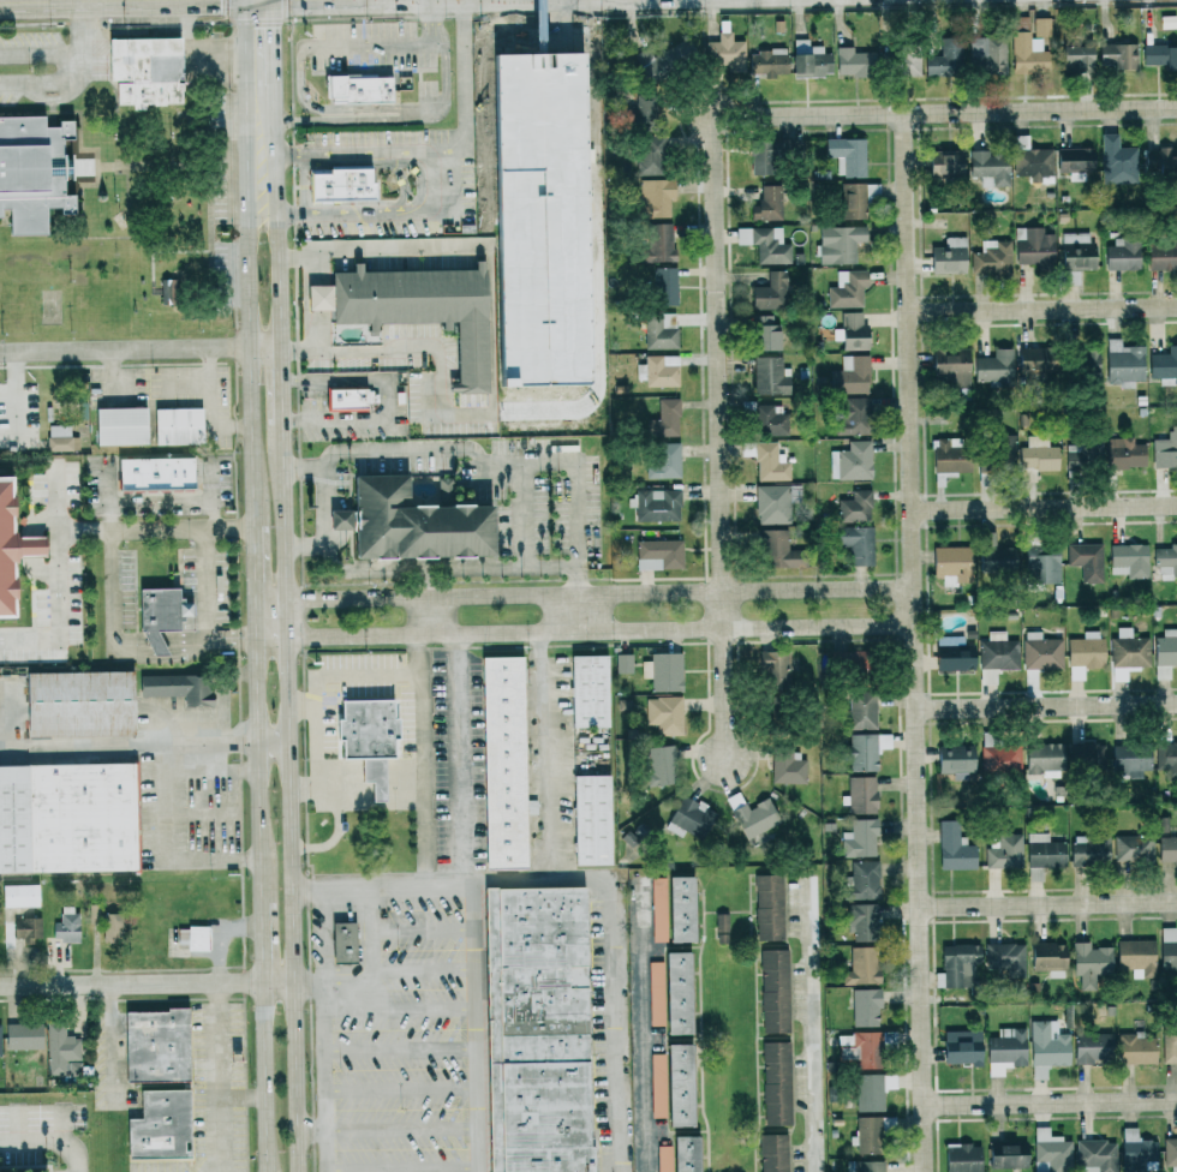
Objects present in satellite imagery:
road: (48, 0)
road: (429, 20)
building: (1041, 26)
road: (374, 42)
road: (275, 43)
building: (725, 53)
road: (44, 54)
building: (538, 54)
building: (1153, 54)
building: (986, 55)
building: (1118, 55)
building: (1076, 56)
building: (811, 58)
building: (1171, 58)
building: (944, 59)
building: (907, 61)
building: (767, 62)
building: (853, 62)
building: (145, 71)
road: (446, 73)
road: (78, 74)
road: (299, 84)
building: (358, 89)
road: (249, 108)
building: (644, 109)
road: (944, 110)
road: (362, 119)
road: (276, 151)
road: (442, 155)
building: (650, 155)
building: (847, 156)
building: (761, 157)
building: (1074, 160)
building: (1160, 160)
building: (1032, 161)
building: (945, 163)
building: (1118, 165)
building: (990, 167)
building: (31, 172)
road: (303, 184)
building: (339, 184)
building: (656, 197)
building: (767, 203)
road: (363, 215)
building: (661, 243)
building: (766, 244)
building: (840, 244)
building: (1034, 246)
building: (1076, 251)
building: (1163, 253)
building: (1123, 255)
building: (949, 257)
building: (992, 258)
road: (279, 281)
building: (665, 286)
building: (848, 289)
building: (168, 292)
building: (772, 292)
road: (1042, 306)
building: (414, 309)
road: (322, 311)
building: (853, 331)
building: (766, 333)
building: (658, 334)
road: (139, 349)
building: (1034, 360)
building: (1124, 363)
building: (1087, 364)
building: (1164, 364)
building: (994, 367)
building: (949, 369)
road: (252, 371)
building: (659, 371)
building: (770, 376)
building: (850, 376)
road: (281, 385)
building: (345, 399)
building: (852, 415)
building: (764, 418)
building: (664, 419)
building: (119, 426)
building: (177, 426)
road: (717, 436)
building: (60, 438)
building: (747, 449)
building: (1004, 449)
building: (1165, 450)
building: (1083, 453)
building: (1116, 453)
building: (1038, 454)
building: (950, 458)
road: (488, 460)
building: (664, 460)
building: (852, 461)
building: (770, 464)
building: (154, 474)
building: (656, 504)
building: (772, 504)
building: (855, 507)
road: (1044, 507)
road: (283, 510)
road: (324, 521)
building: (411, 524)
road: (129, 531)
road: (521, 539)
building: (856, 544)
building: (29, 546)
building: (776, 550)
building: (4, 552)
building: (659, 554)
building: (996, 556)
building: (1166, 557)
building: (1040, 561)
building: (1087, 561)
building: (1129, 561)
building: (950, 562)
road: (413, 572)
road: (257, 582)
road: (208, 584)
road: (419, 584)
road: (62, 588)
road: (665, 591)
road: (352, 597)
road: (271, 598)
road: (420, 615)
building: (159, 617)
road: (286, 617)
road: (667, 629)
road: (354, 635)
road: (273, 636)
road: (233, 638)
road: (160, 640)
road: (913, 641)
building: (1085, 650)
building: (1129, 650)
building: (1041, 653)
building: (1165, 653)
building: (954, 654)
building: (997, 656)
building: (850, 662)
building: (623, 663)
building: (773, 666)
building: (664, 671)
road: (357, 681)
building: (178, 687)
building: (588, 690)
building: (78, 702)
road: (1045, 706)
building: (861, 708)
building: (665, 714)
building: (366, 737)
road: (275, 741)
road: (130, 742)
road: (542, 749)
building: (866, 749)
road: (316, 752)
building: (1166, 755)
building: (1086, 757)
road: (424, 758)
building: (1000, 759)
building: (1044, 759)
building: (1130, 759)
building: (955, 760)
building: (507, 763)
building: (659, 765)
building: (788, 766)
road: (261, 770)
building: (861, 794)
building: (67, 817)
building: (691, 818)
building: (591, 819)
road: (339, 833)
building: (860, 838)
road: (166, 848)
building: (954, 848)
building: (1134, 849)
building: (1167, 849)
building: (1089, 850)
building: (1003, 851)
building: (1042, 854)
building: (861, 880)
road: (307, 891)
building: (20, 895)
road: (293, 903)
road: (470, 903)
road: (1047, 903)
building: (769, 907)
building: (673, 908)
building: (862, 921)
building: (66, 925)
building: (110, 927)
building: (722, 927)
building: (26, 928)
road: (374, 931)
building: (191, 937)
road: (323, 938)
road: (265, 941)
building: (342, 941)
building: (1167, 947)
road: (615, 953)
building: (1136, 955)
building: (1005, 958)
building: (1047, 958)
building: (1091, 962)
building: (956, 963)
building: (862, 965)
road: (398, 974)
road: (281, 981)
road: (310, 981)
road: (132, 982)
building: (775, 991)
building: (677, 992)
building: (655, 993)
building: (865, 1006)
road: (400, 1012)
building: (536, 1028)
road: (640, 1028)
road: (812, 1032)
building: (22, 1035)
road: (115, 1044)
building: (155, 1045)
building: (1047, 1047)
building: (1092, 1047)
building: (0, 1048)
building: (59, 1048)
building: (859, 1048)
building: (961, 1048)
building: (1136, 1048)
road: (400, 1050)
building: (1005, 1050)
building: (72, 1066)
road: (268, 1076)
road: (220, 1077)
building: (776, 1082)
building: (679, 1084)
building: (658, 1086)
road: (402, 1088)
building: (867, 1092)
road: (245, 1095)
road: (1048, 1101)
building: (159, 1124)
road: (404, 1130)
road: (312, 1132)
building: (867, 1134)
road: (49, 1143)
road: (328, 1152)
building: (1051, 1152)
building: (1137, 1152)
building: (773, 1153)
building: (1170, 1153)
building: (679, 1155)
building: (1095, 1155)
building: (1008, 1156)
building: (962, 1158)
road: (404, 1166)
building: (868, 1166)

